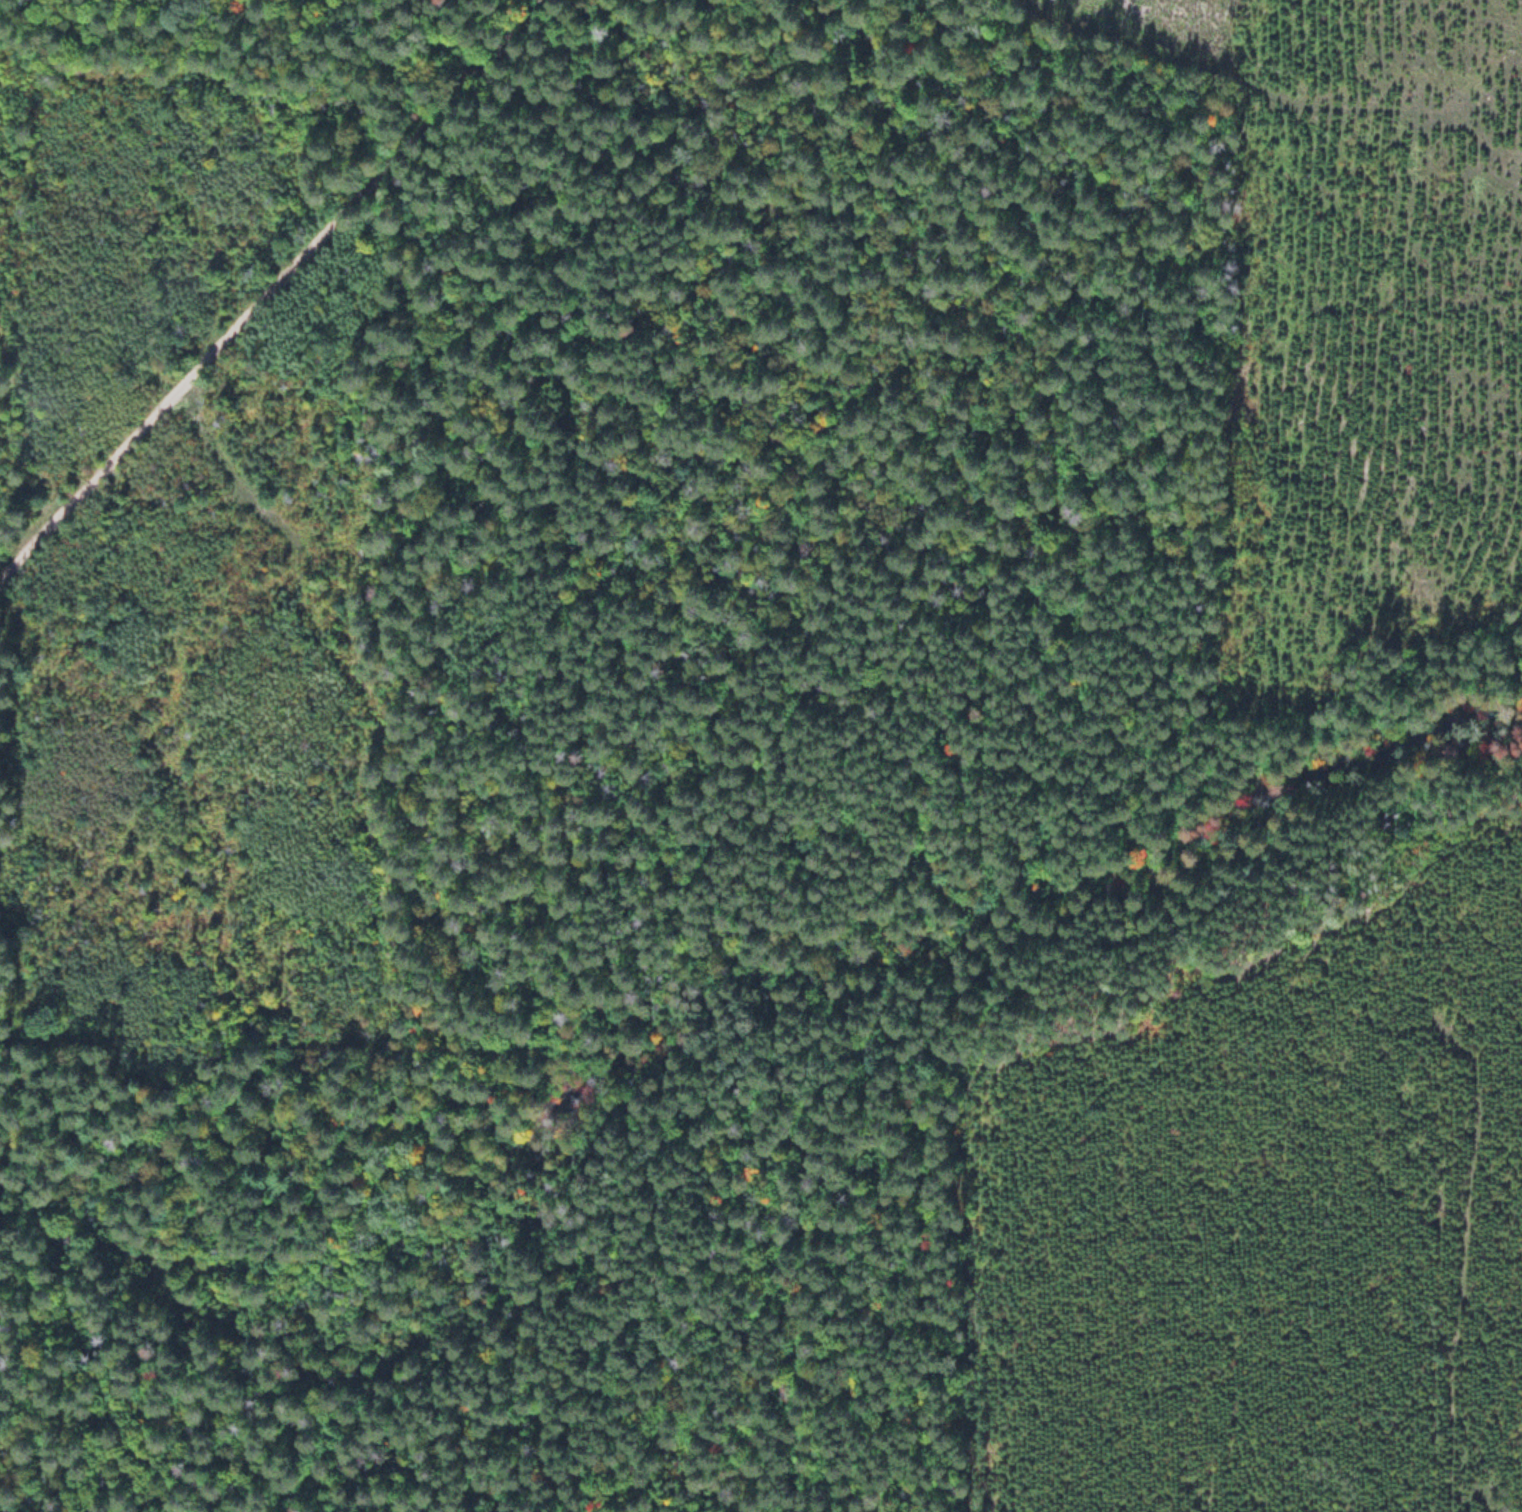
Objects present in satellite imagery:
road: (1227, 74)
road: (271, 287)
road: (636, 941)
road: (173, 1296)

